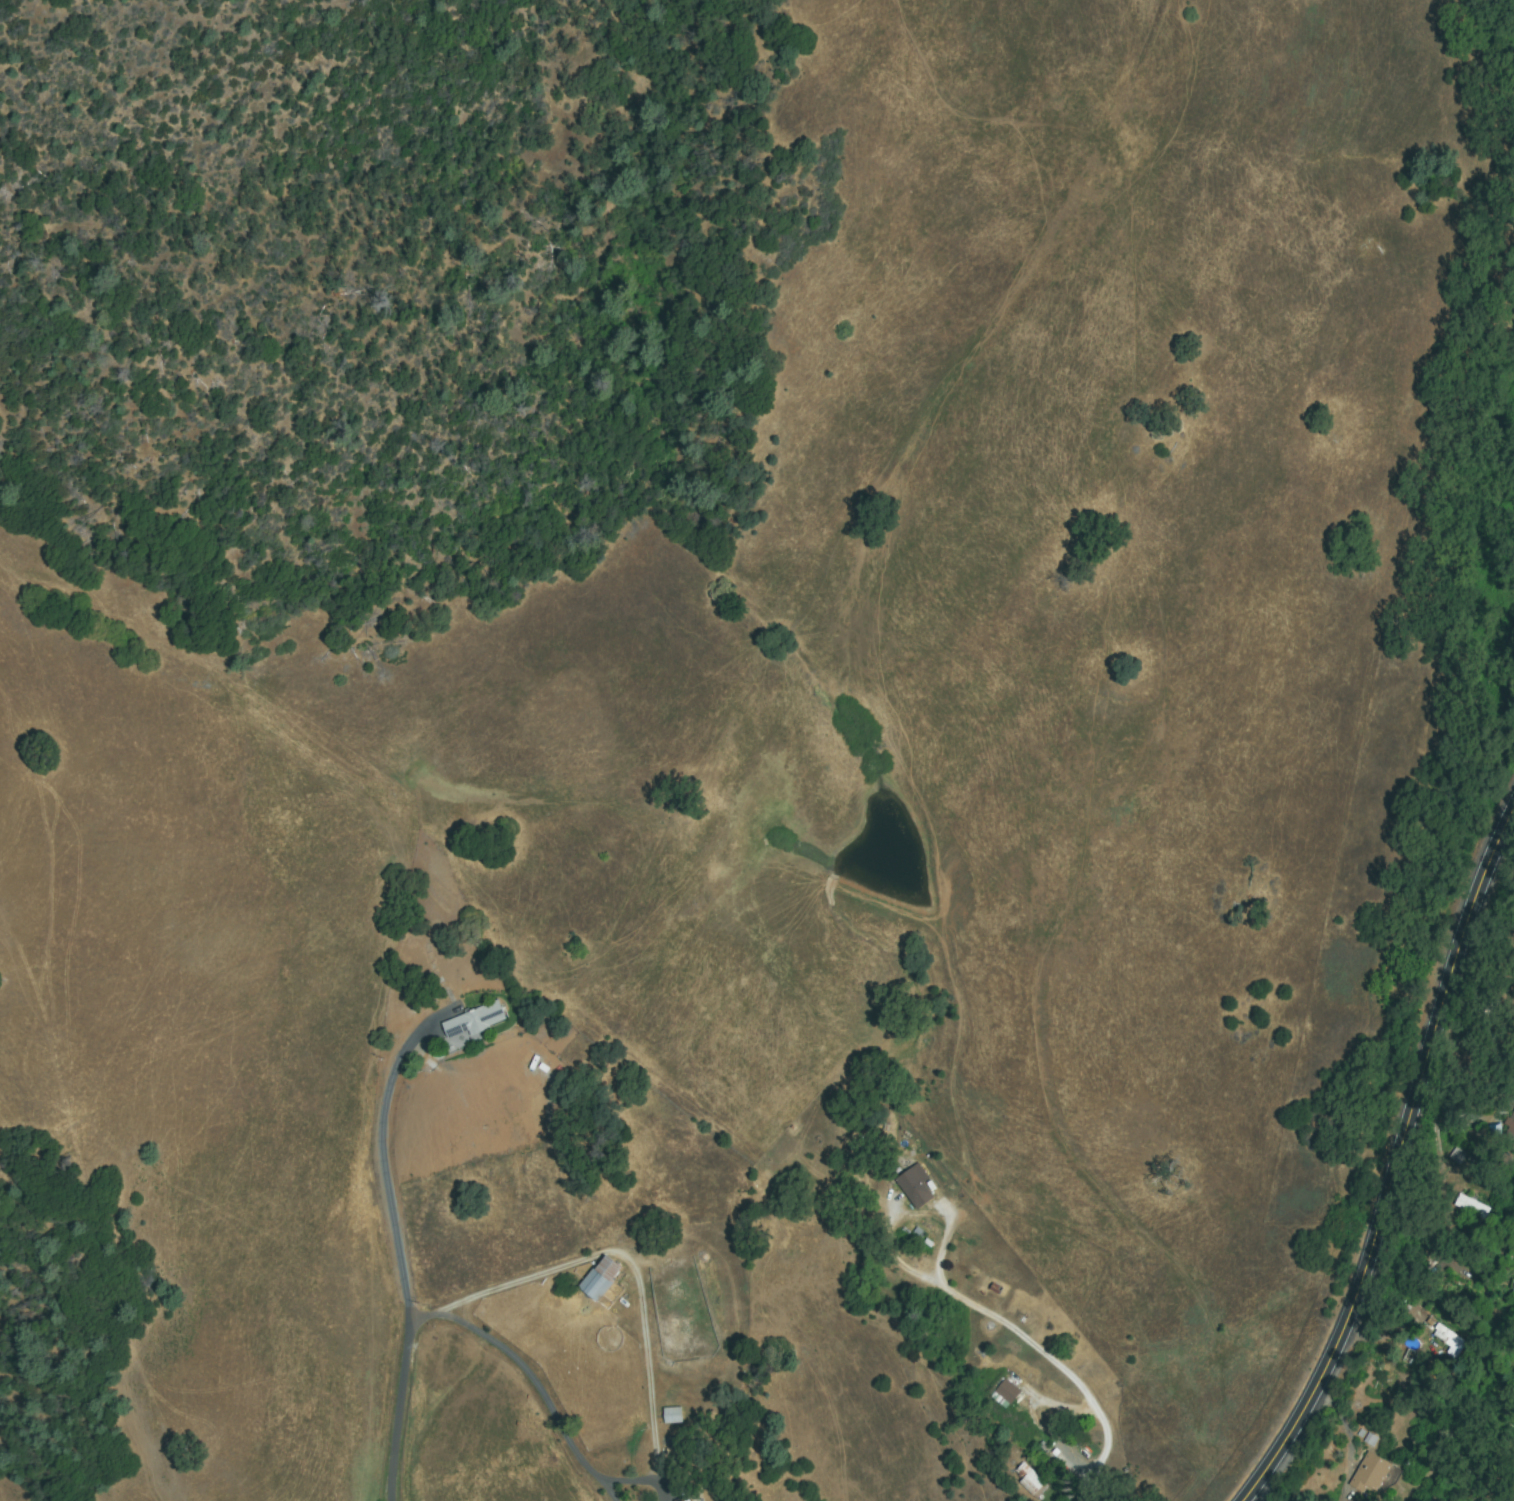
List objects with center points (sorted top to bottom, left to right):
building: (475, 1021)
road: (391, 1070)
building: (1509, 1122)
road: (1397, 1161)
building: (916, 1188)
building: (1471, 1207)
building: (1504, 1250)
building: (601, 1279)
building: (1513, 1284)
building: (1510, 1300)
building: (1448, 1337)
building: (1004, 1396)
building: (672, 1414)
building: (1368, 1438)
building: (1374, 1474)
building: (1030, 1480)
building: (684, 1500)

